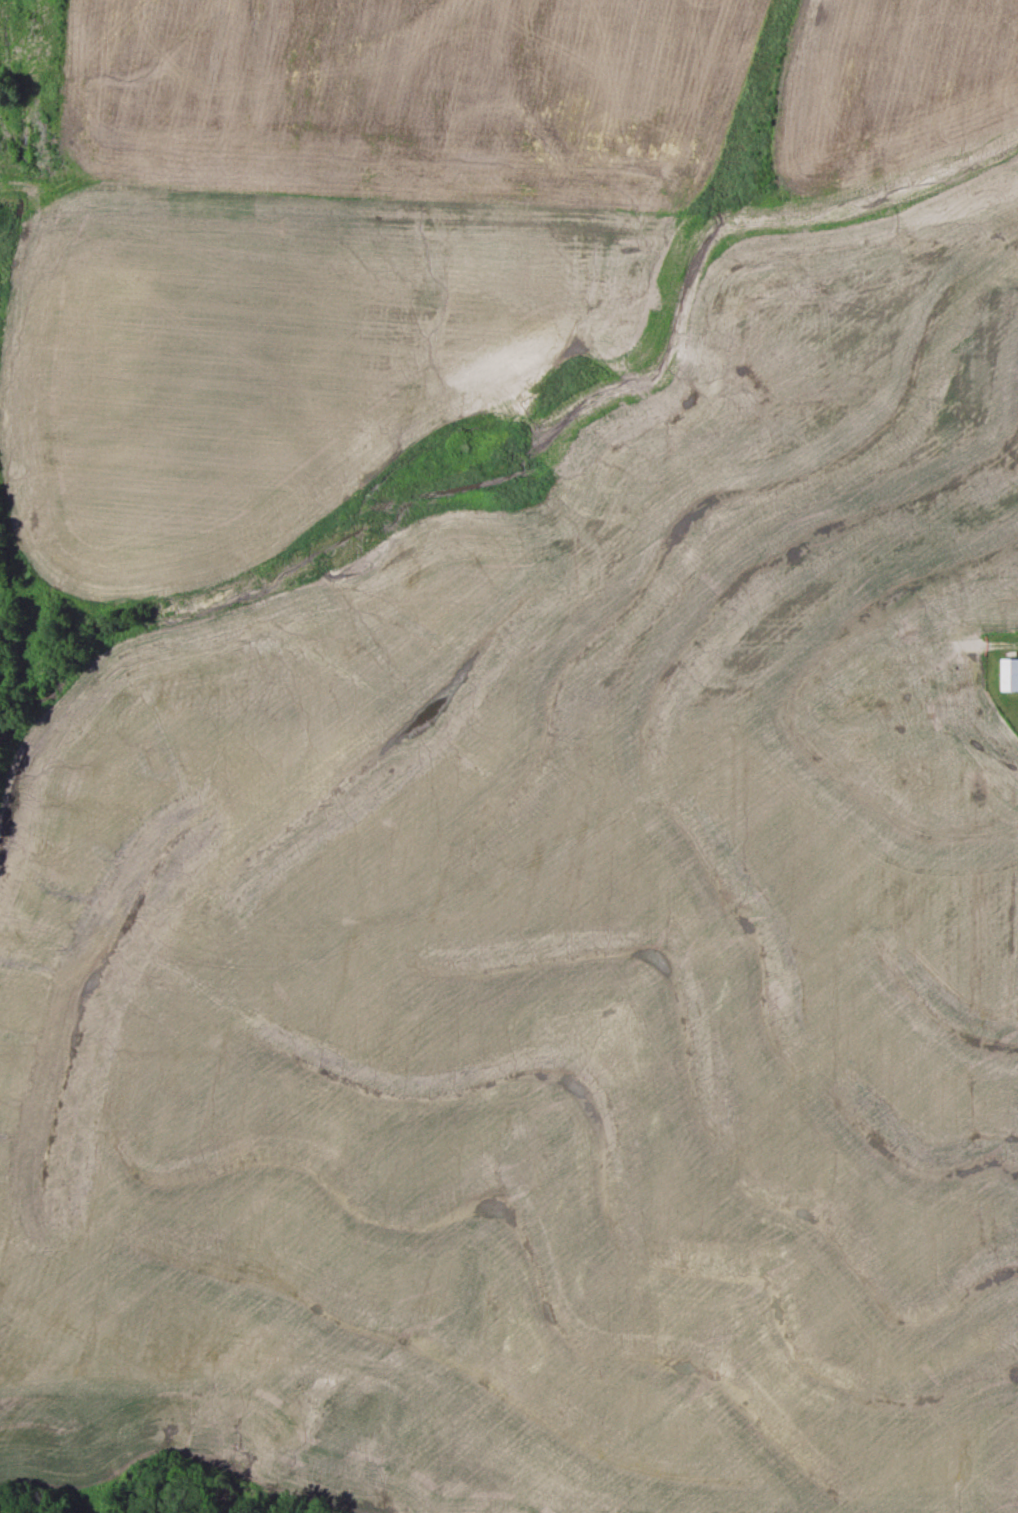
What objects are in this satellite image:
building: (1008, 676)

